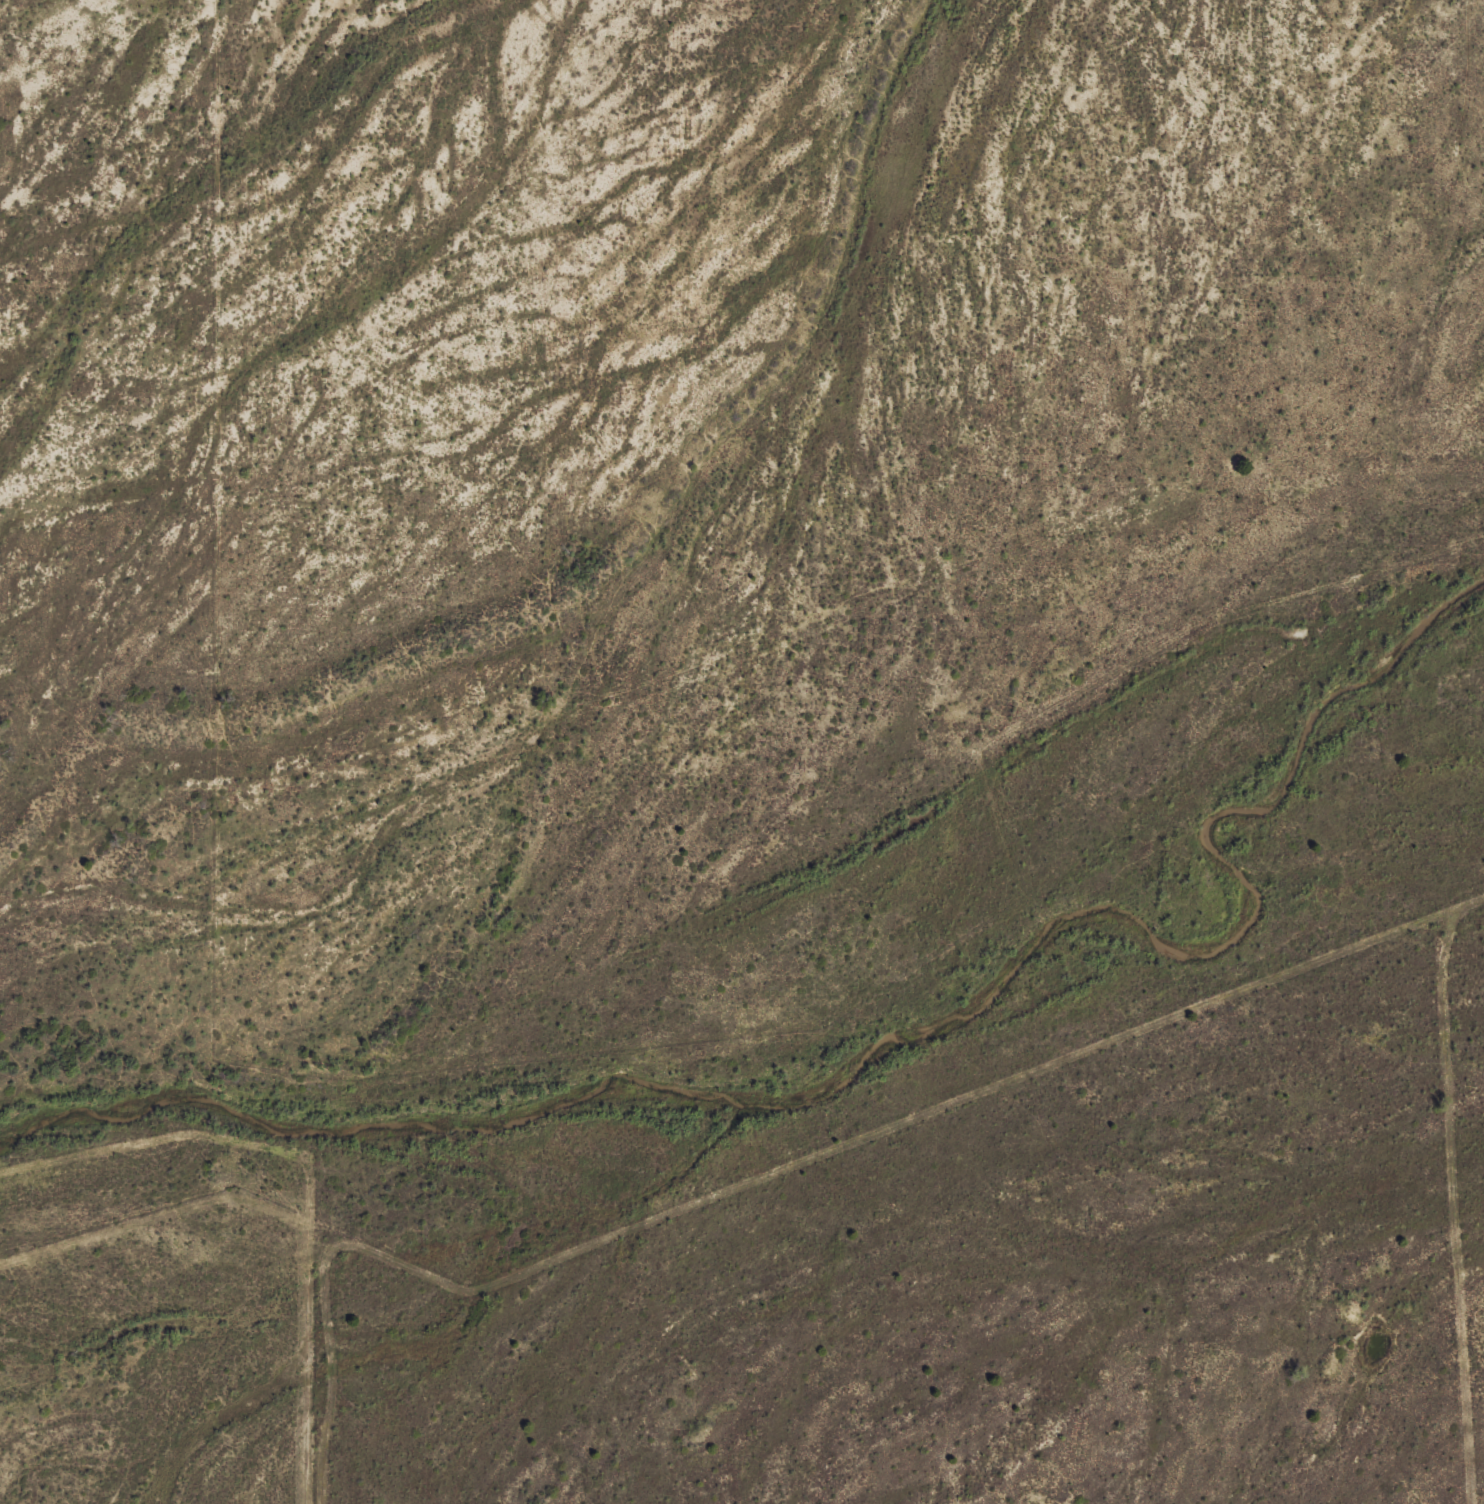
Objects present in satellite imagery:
river: (879, 1049)

